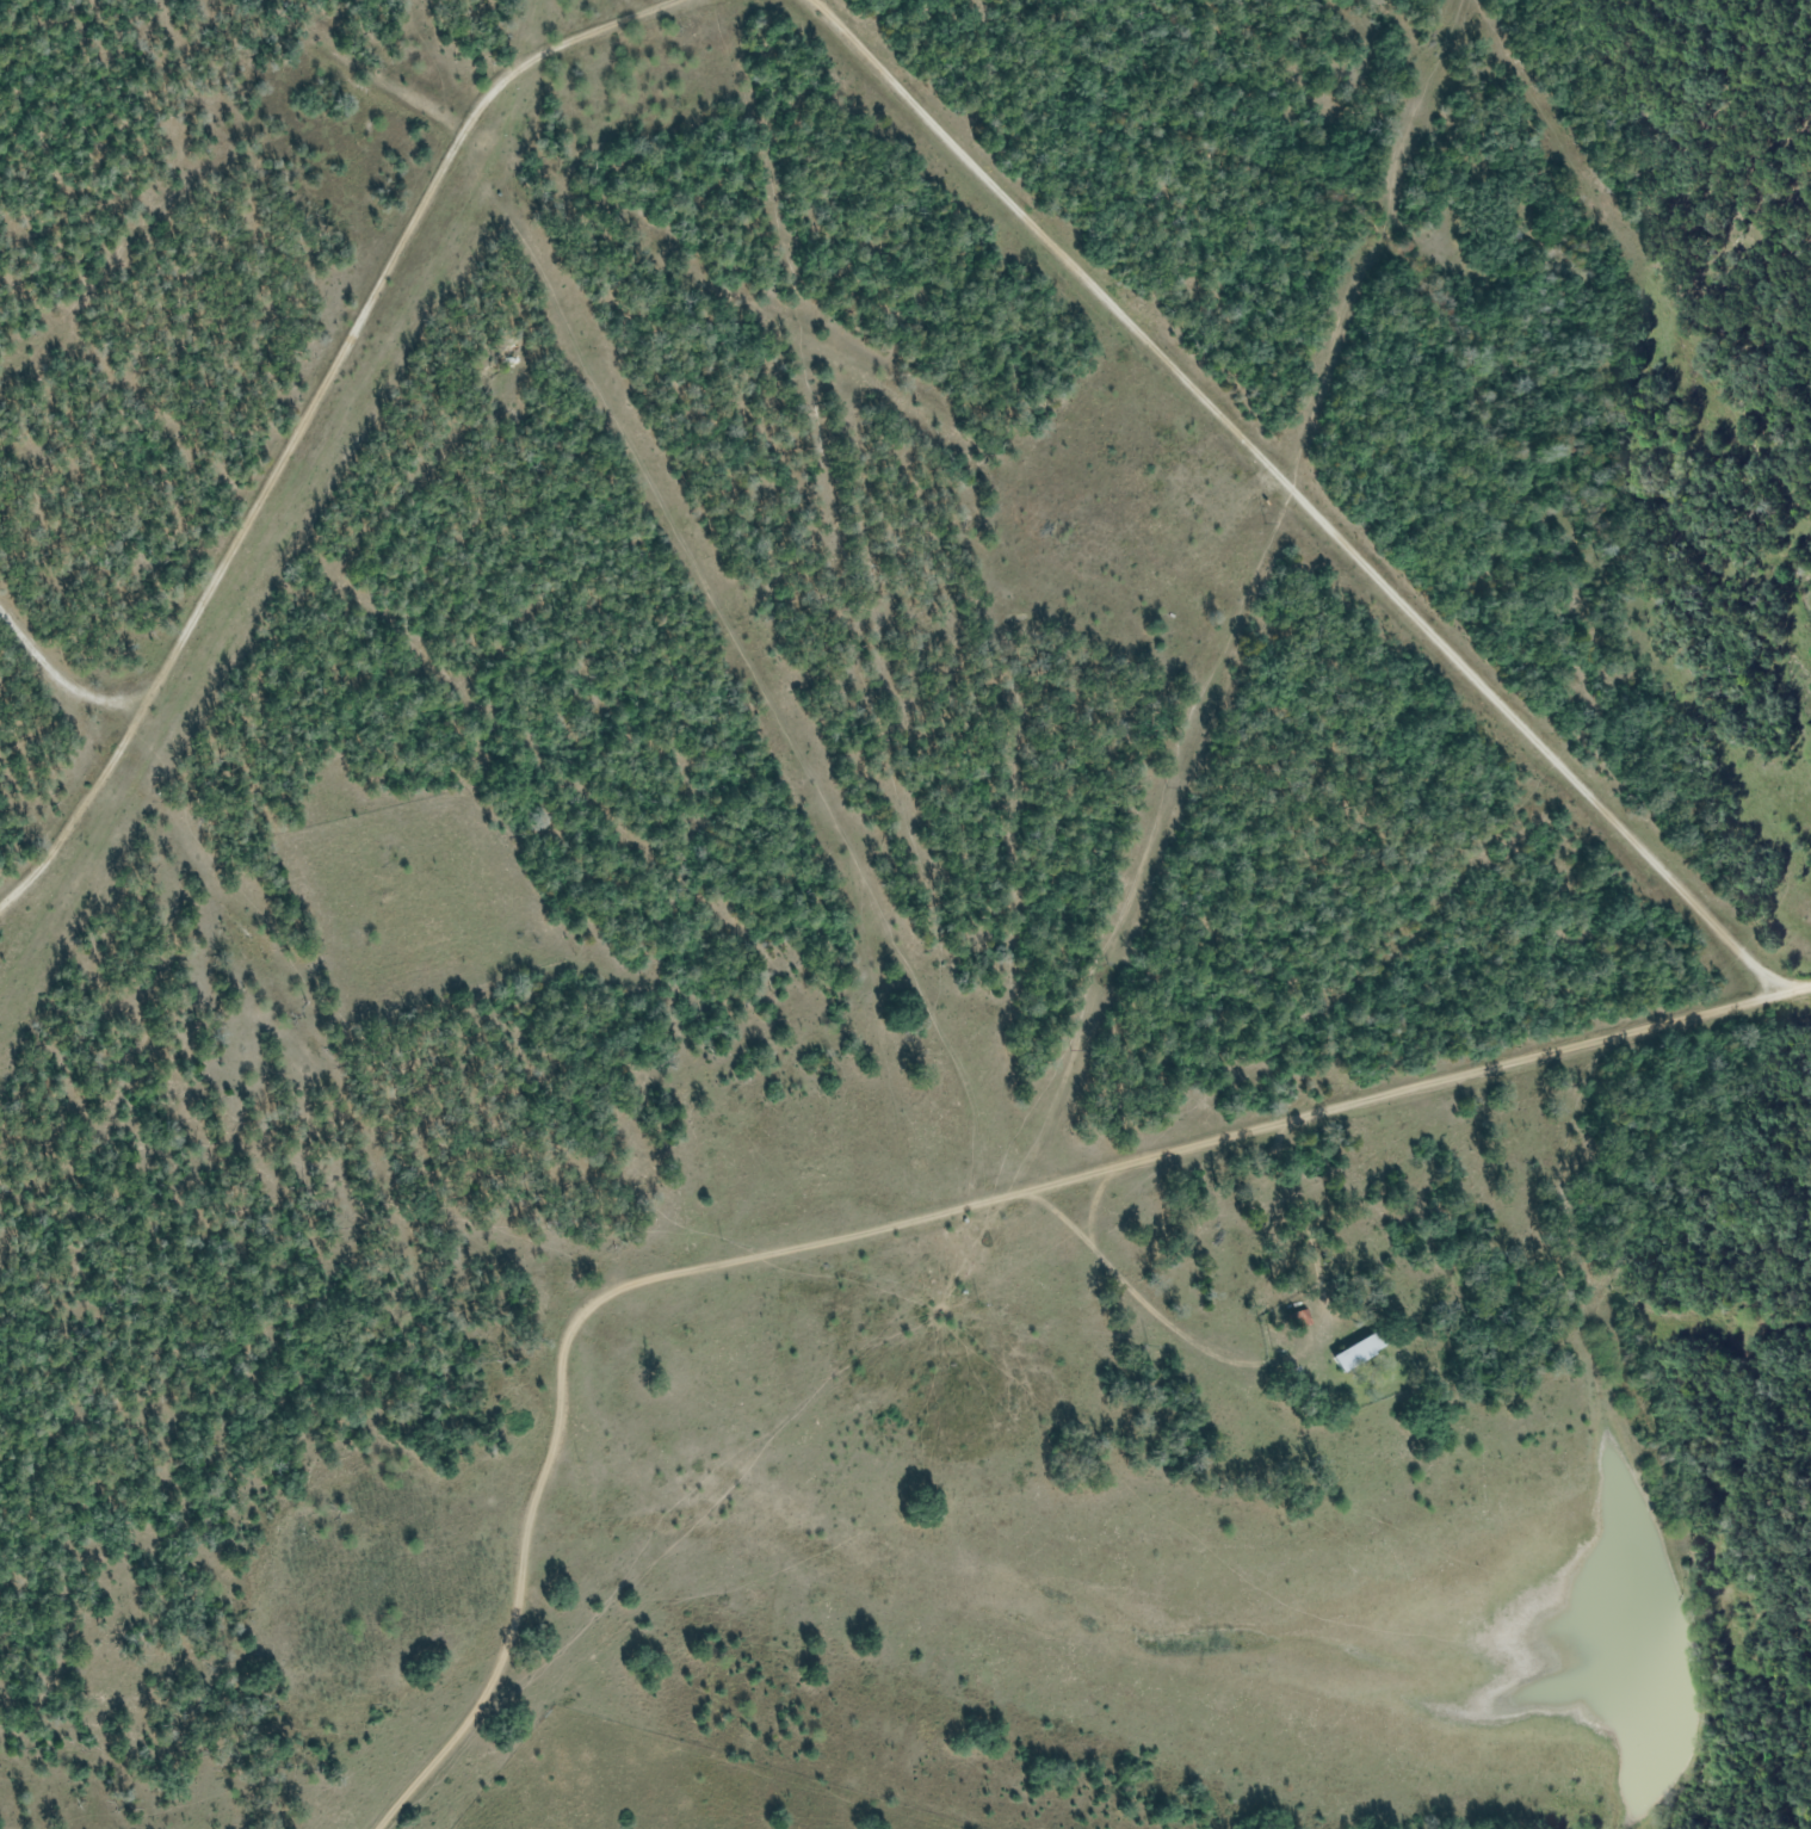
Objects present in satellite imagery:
building: (1355, 1352)

